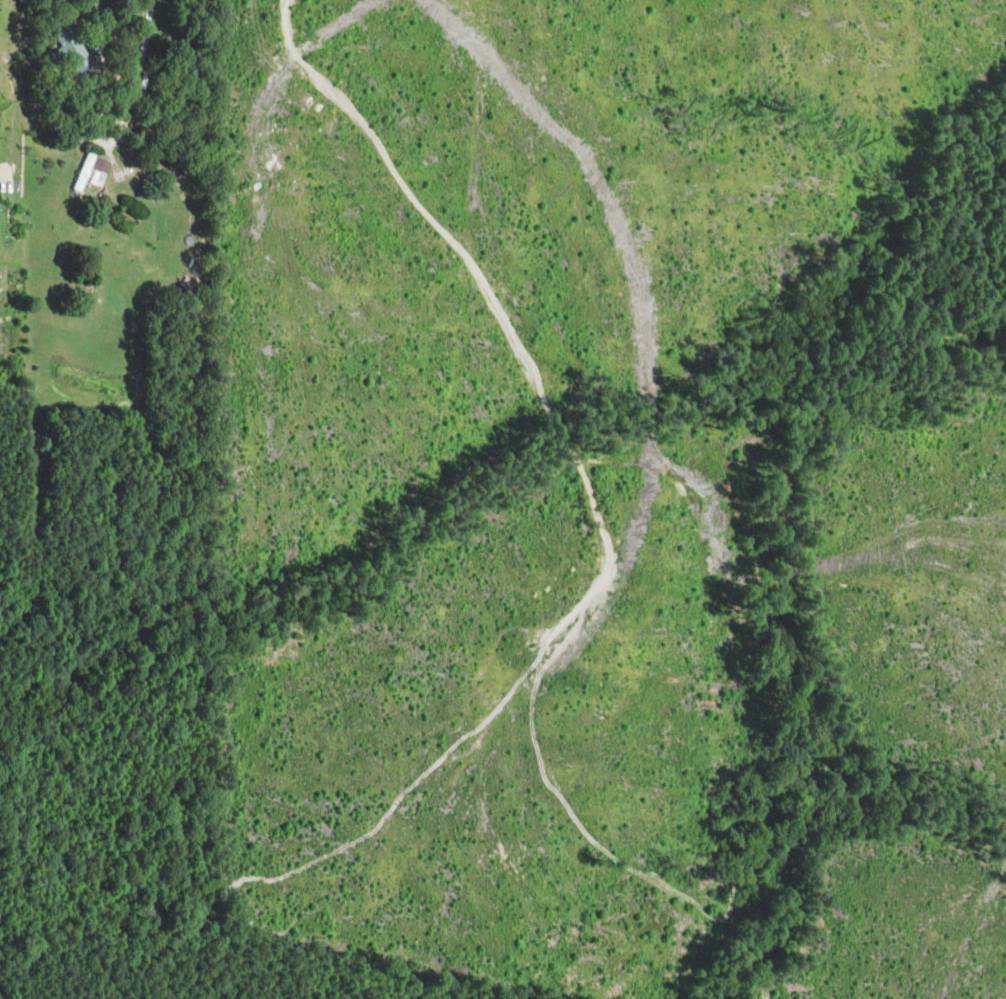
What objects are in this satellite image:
road: (134, 71)
building: (92, 171)
road: (0, 176)

